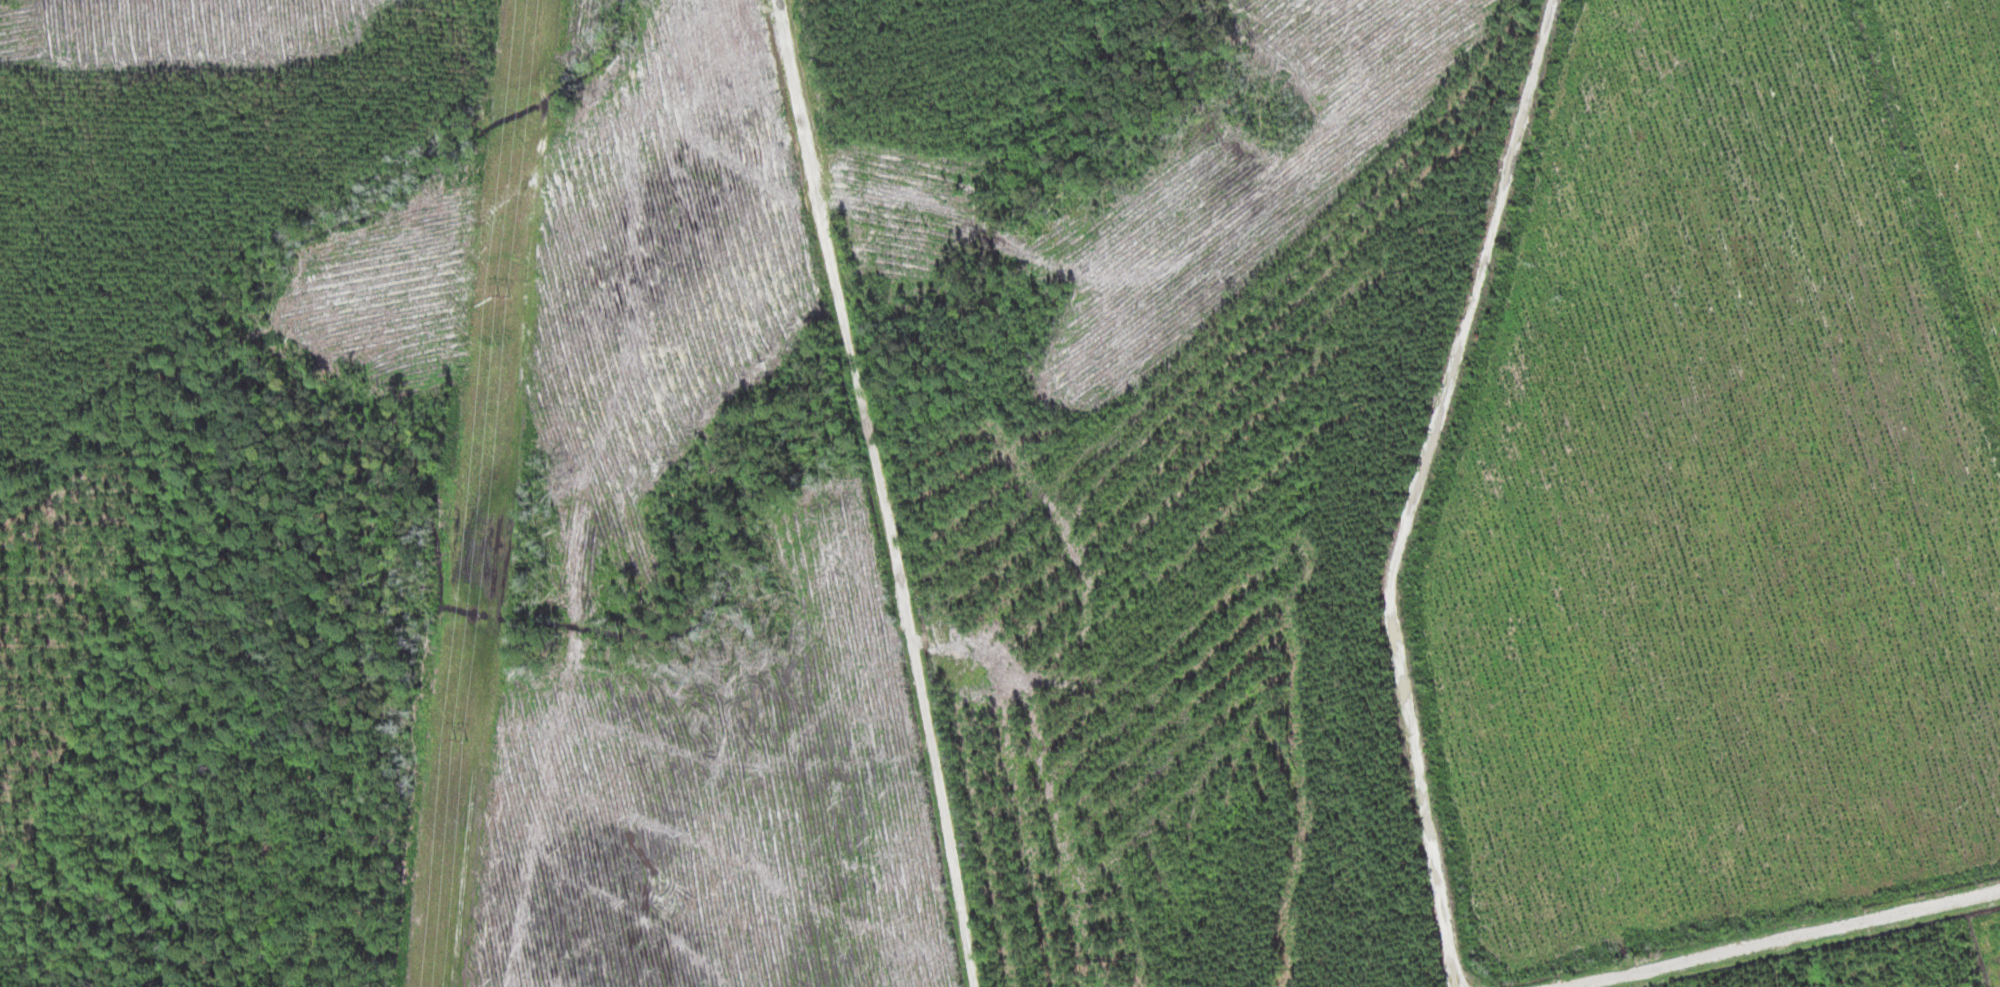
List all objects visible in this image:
power tower: (501, 295)
road: (882, 494)
power tower: (462, 742)

